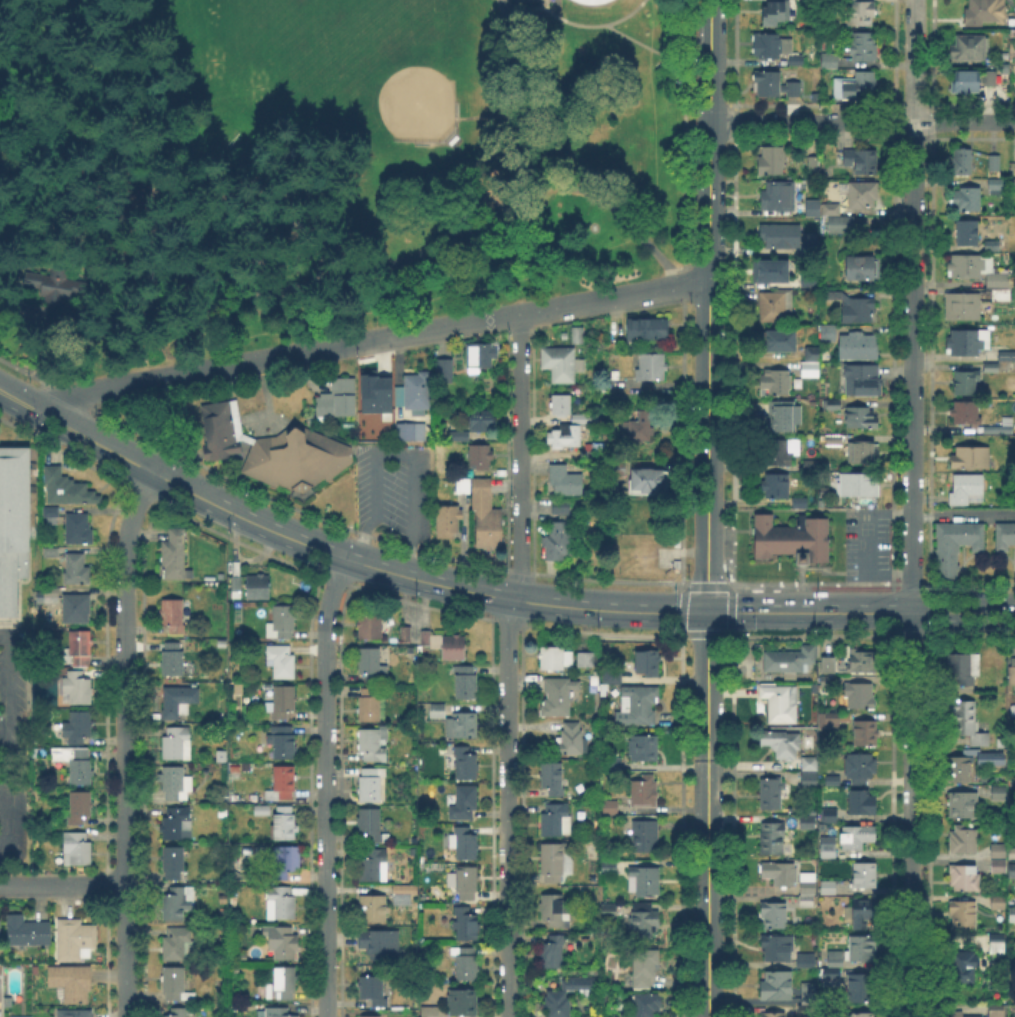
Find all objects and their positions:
building: (532, 0)
building: (594, 1)
building: (860, 11)
building: (986, 11)
building: (776, 12)
building: (546, 22)
road: (576, 22)
building: (864, 47)
building: (969, 47)
building: (776, 48)
road: (656, 51)
building: (829, 60)
park: (304, 70)
building: (755, 75)
building: (990, 78)
building: (967, 82)
building: (768, 83)
building: (857, 85)
building: (794, 89)
road: (862, 122)
building: (862, 159)
building: (773, 160)
building: (962, 162)
building: (995, 162)
building: (814, 163)
park: (325, 166)
building: (1014, 170)
road: (538, 178)
building: (996, 185)
building: (863, 194)
building: (779, 195)
building: (136, 196)
building: (967, 198)
building: (814, 208)
building: (832, 208)
building: (839, 224)
building: (968, 232)
building: (782, 235)
building: (992, 245)
building: (865, 267)
building: (770, 269)
building: (983, 274)
building: (805, 279)
road: (278, 287)
building: (56, 288)
building: (836, 293)
building: (775, 305)
road: (707, 306)
building: (963, 306)
road: (551, 308)
building: (859, 311)
building: (650, 327)
building: (763, 334)
building: (579, 335)
building: (780, 340)
building: (967, 341)
building: (859, 345)
road: (331, 348)
building: (476, 354)
building: (814, 354)
building: (1014, 355)
building: (560, 362)
road: (45, 363)
building: (652, 366)
building: (992, 367)
building: (441, 369)
building: (811, 369)
building: (863, 379)
road: (152, 380)
building: (776, 381)
building: (966, 381)
building: (411, 390)
building: (374, 392)
building: (334, 398)
building: (835, 403)
road: (23, 404)
building: (562, 405)
building: (966, 411)
building: (783, 415)
building: (584, 417)
building: (863, 418)
building: (483, 420)
building: (639, 427)
building: (999, 430)
building: (412, 431)
building: (460, 436)
building: (564, 436)
building: (835, 439)
building: (276, 450)
building: (598, 450)
building: (864, 452)
building: (779, 453)
building: (480, 457)
building: (972, 457)
road: (141, 467)
building: (616, 471)
building: (566, 480)
building: (649, 482)
building: (776, 485)
building: (859, 485)
building: (464, 486)
building: (67, 488)
building: (968, 489)
road: (414, 495)
building: (800, 501)
building: (561, 505)
road: (376, 508)
road: (911, 508)
building: (53, 512)
road: (963, 515)
building: (486, 516)
building: (449, 521)
building: (13, 524)
building: (78, 529)
building: (1005, 536)
building: (559, 538)
building: (792, 538)
road: (867, 539)
building: (955, 544)
building: (52, 551)
building: (175, 552)
building: (76, 568)
building: (235, 584)
building: (258, 586)
road: (465, 590)
building: (48, 595)
building: (76, 608)
traffic signals: (705, 613)
road: (860, 613)
building: (173, 615)
building: (282, 621)
building: (370, 627)
building: (406, 633)
building: (433, 640)
building: (454, 647)
building: (79, 648)
building: (555, 657)
building: (173, 658)
building: (586, 659)
building: (790, 659)
building: (282, 660)
building: (863, 661)
building: (370, 662)
building: (648, 663)
road: (508, 664)
building: (829, 664)
building: (964, 666)
building: (1012, 671)
building: (612, 678)
building: (829, 680)
building: (466, 682)
building: (76, 687)
building: (860, 694)
building: (559, 696)
building: (283, 700)
building: (176, 701)
building: (371, 702)
building: (781, 702)
building: (637, 705)
building: (438, 710)
building: (1012, 713)
building: (832, 720)
building: (968, 722)
building: (462, 725)
building: (78, 726)
road: (10, 734)
building: (867, 734)
building: (570, 738)
road: (125, 742)
building: (284, 742)
building: (178, 743)
building: (373, 743)
building: (782, 743)
building: (644, 747)
building: (998, 754)
building: (810, 760)
building: (613, 762)
building: (75, 763)
building: (466, 763)
building: (861, 767)
building: (959, 769)
building: (553, 777)
building: (810, 779)
building: (832, 779)
building: (176, 783)
building: (283, 783)
building: (371, 783)
road: (325, 786)
building: (645, 791)
building: (771, 791)
building: (1001, 791)
building: (465, 802)
building: (863, 802)
building: (962, 804)
building: (80, 805)
building: (611, 806)
building: (831, 810)
building: (264, 811)
road: (706, 814)
building: (556, 819)
building: (284, 822)
building: (808, 822)
building: (176, 823)
building: (371, 824)
building: (463, 830)
building: (645, 835)
building: (856, 838)
building: (776, 839)
building: (964, 840)
building: (467, 846)
building: (828, 846)
building: (78, 849)
building: (1012, 853)
road: (945, 856)
building: (999, 858)
building: (286, 861)
building: (553, 861)
building: (173, 862)
building: (374, 864)
building: (608, 868)
building: (1012, 870)
building: (781, 872)
building: (865, 874)
building: (965, 878)
building: (645, 880)
building: (467, 882)
road: (62, 885)
building: (829, 887)
building: (406, 889)
building: (808, 890)
building: (177, 902)
building: (282, 902)
building: (998, 902)
building: (373, 908)
building: (556, 909)
building: (609, 910)
building: (864, 912)
building: (963, 913)
building: (1012, 914)
building: (775, 915)
building: (643, 920)
building: (466, 923)
building: (28, 930)
building: (76, 939)
building: (363, 939)
building: (557, 940)
building: (998, 940)
building: (282, 941)
building: (383, 941)
building: (179, 945)
building: (778, 947)
building: (862, 947)
building: (385, 955)
building: (553, 955)
building: (837, 958)
building: (812, 960)
building: (466, 962)
building: (964, 965)
building: (644, 969)
building: (832, 976)
building: (72, 982)
building: (285, 982)
building: (175, 983)
building: (777, 984)
building: (582, 986)
building: (861, 986)
building: (373, 989)
building: (810, 991)
building: (463, 1002)
building: (556, 1004)
building: (647, 1005)
building: (807, 1009)
building: (431, 1011)
building: (997, 1011)
building: (181, 1012)
building: (278, 1012)
building: (75, 1013)
building: (860, 1014)
building: (958, 1014)
building: (770, 1015)
building: (370, 1016)

